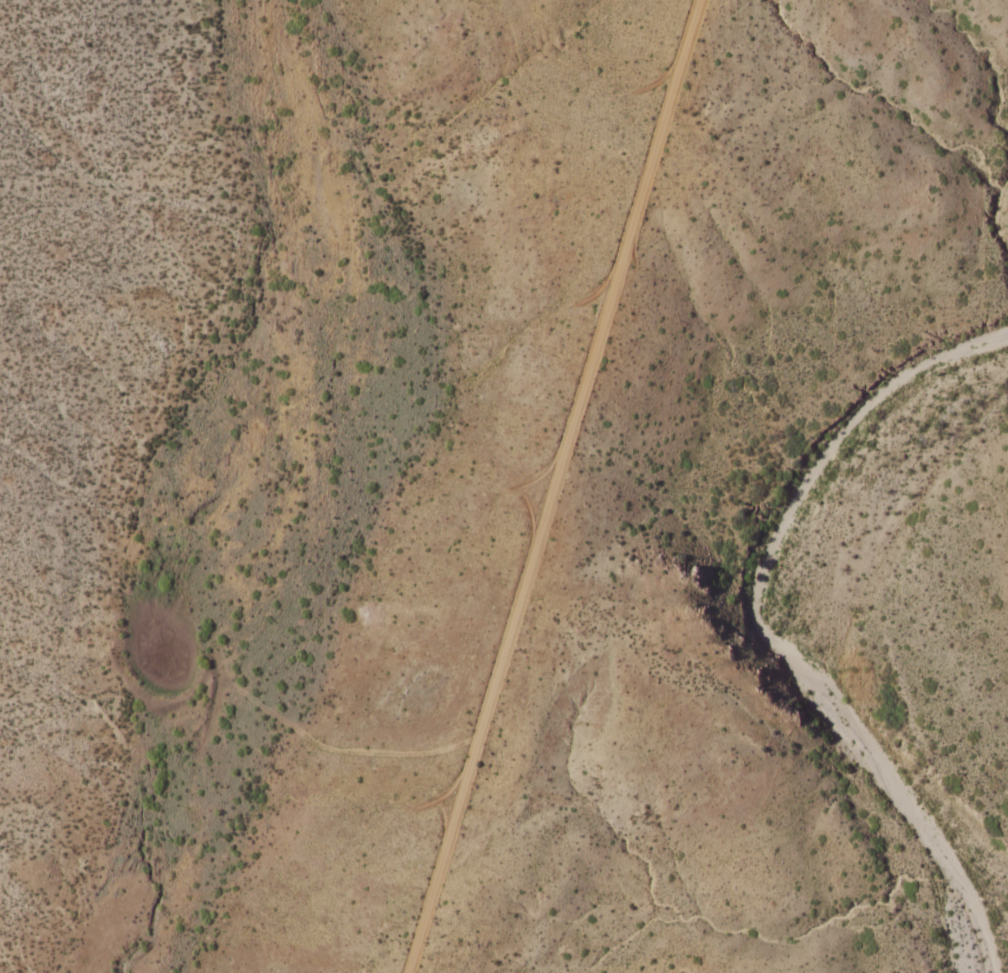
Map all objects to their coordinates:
road: (553, 486)

